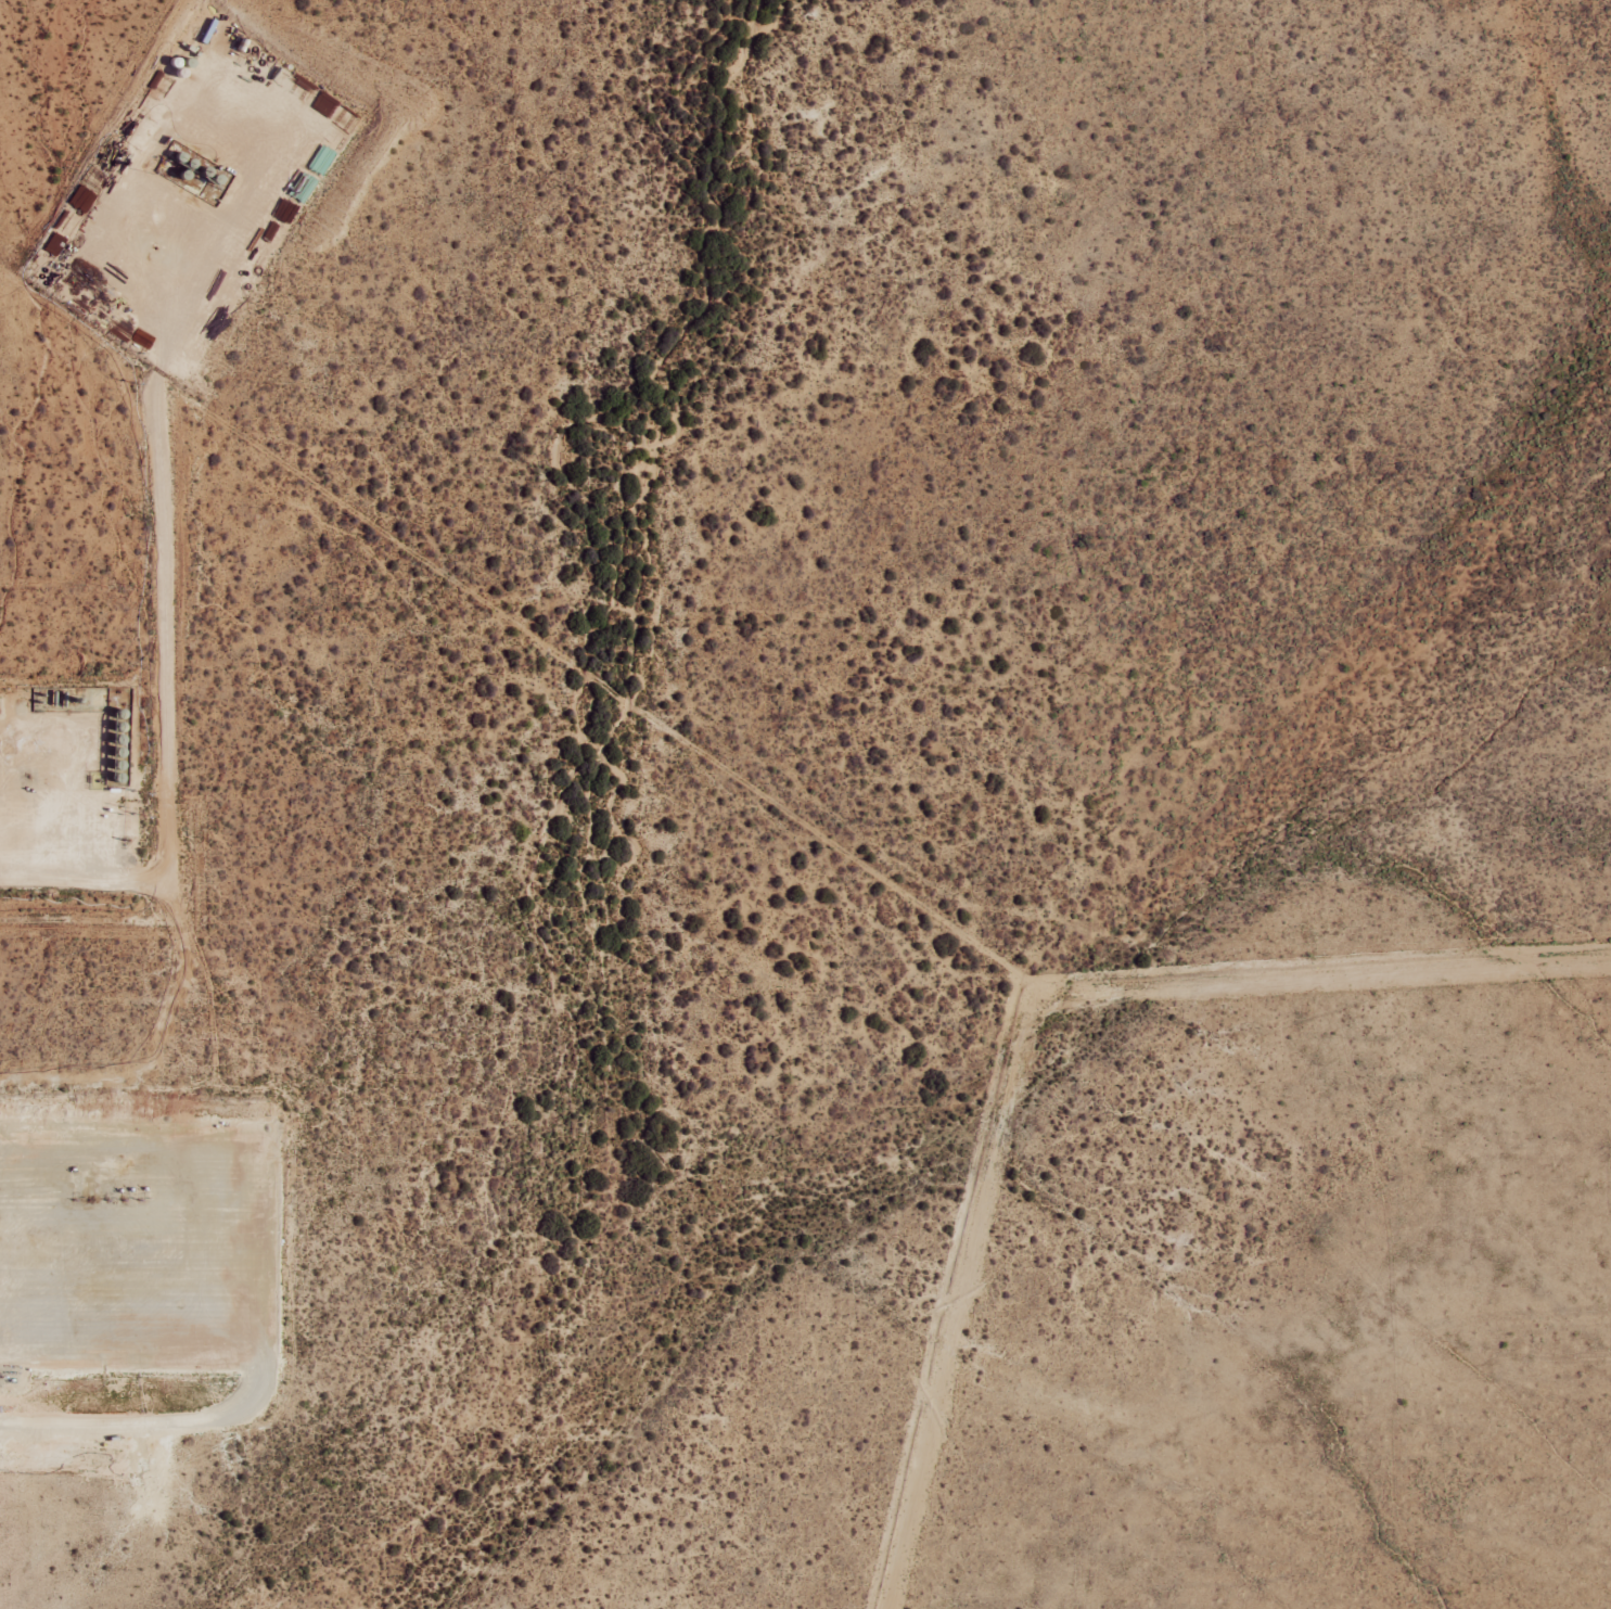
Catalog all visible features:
road: (228, 232)
petroleum well: (153, 245)
road: (154, 690)
petroleum well: (27, 776)
road: (241, 1178)
petroleum well: (73, 1197)
petroleum well: (89, 1198)
petroleum well: (105, 1198)
petroleum well: (122, 1198)
petroleum well: (138, 1198)
road: (113, 1408)

